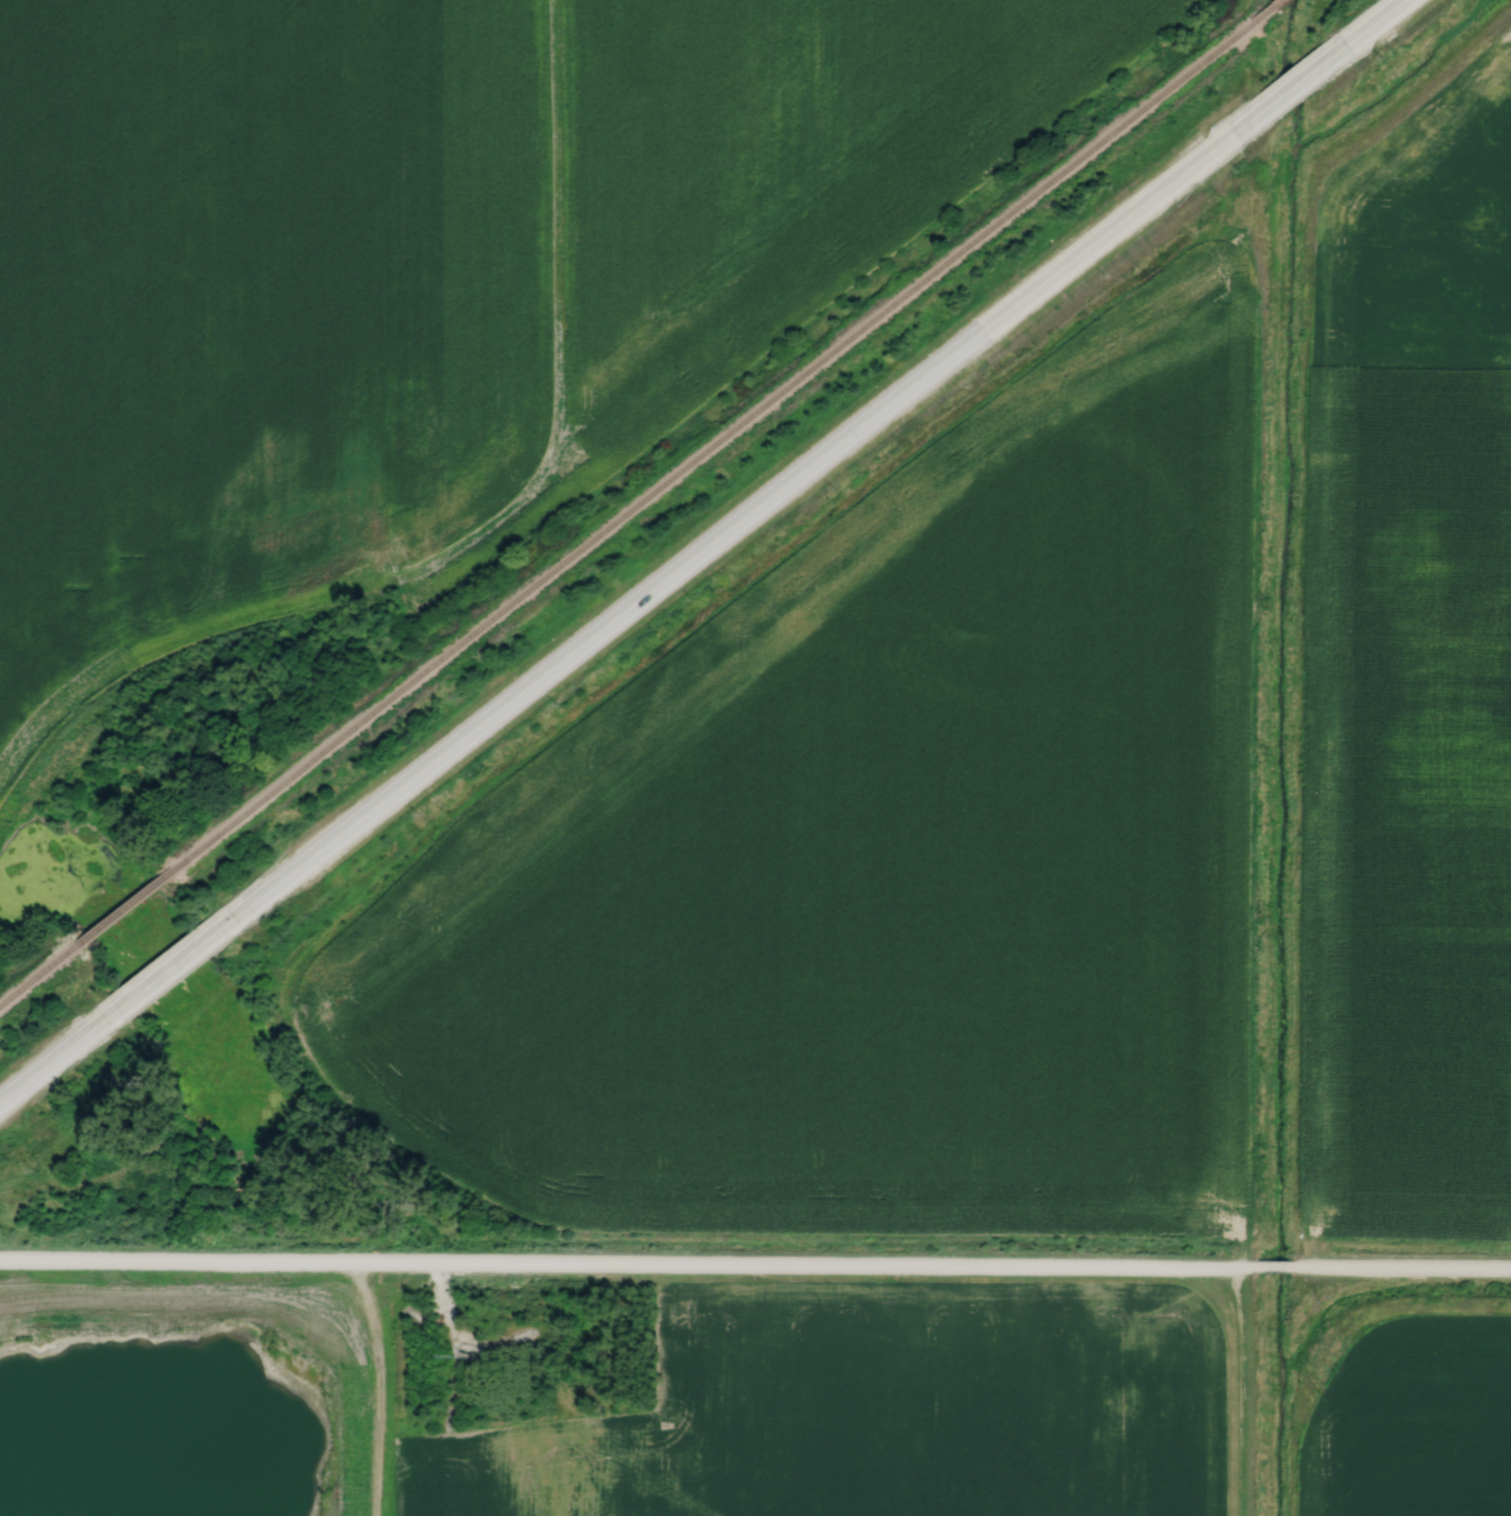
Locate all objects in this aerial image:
railway: (1264, 11)
road: (1373, 21)
road: (1290, 86)
railway: (626, 513)
road: (616, 615)
road: (628, 1267)
road: (1276, 1268)
road: (1402, 1270)

